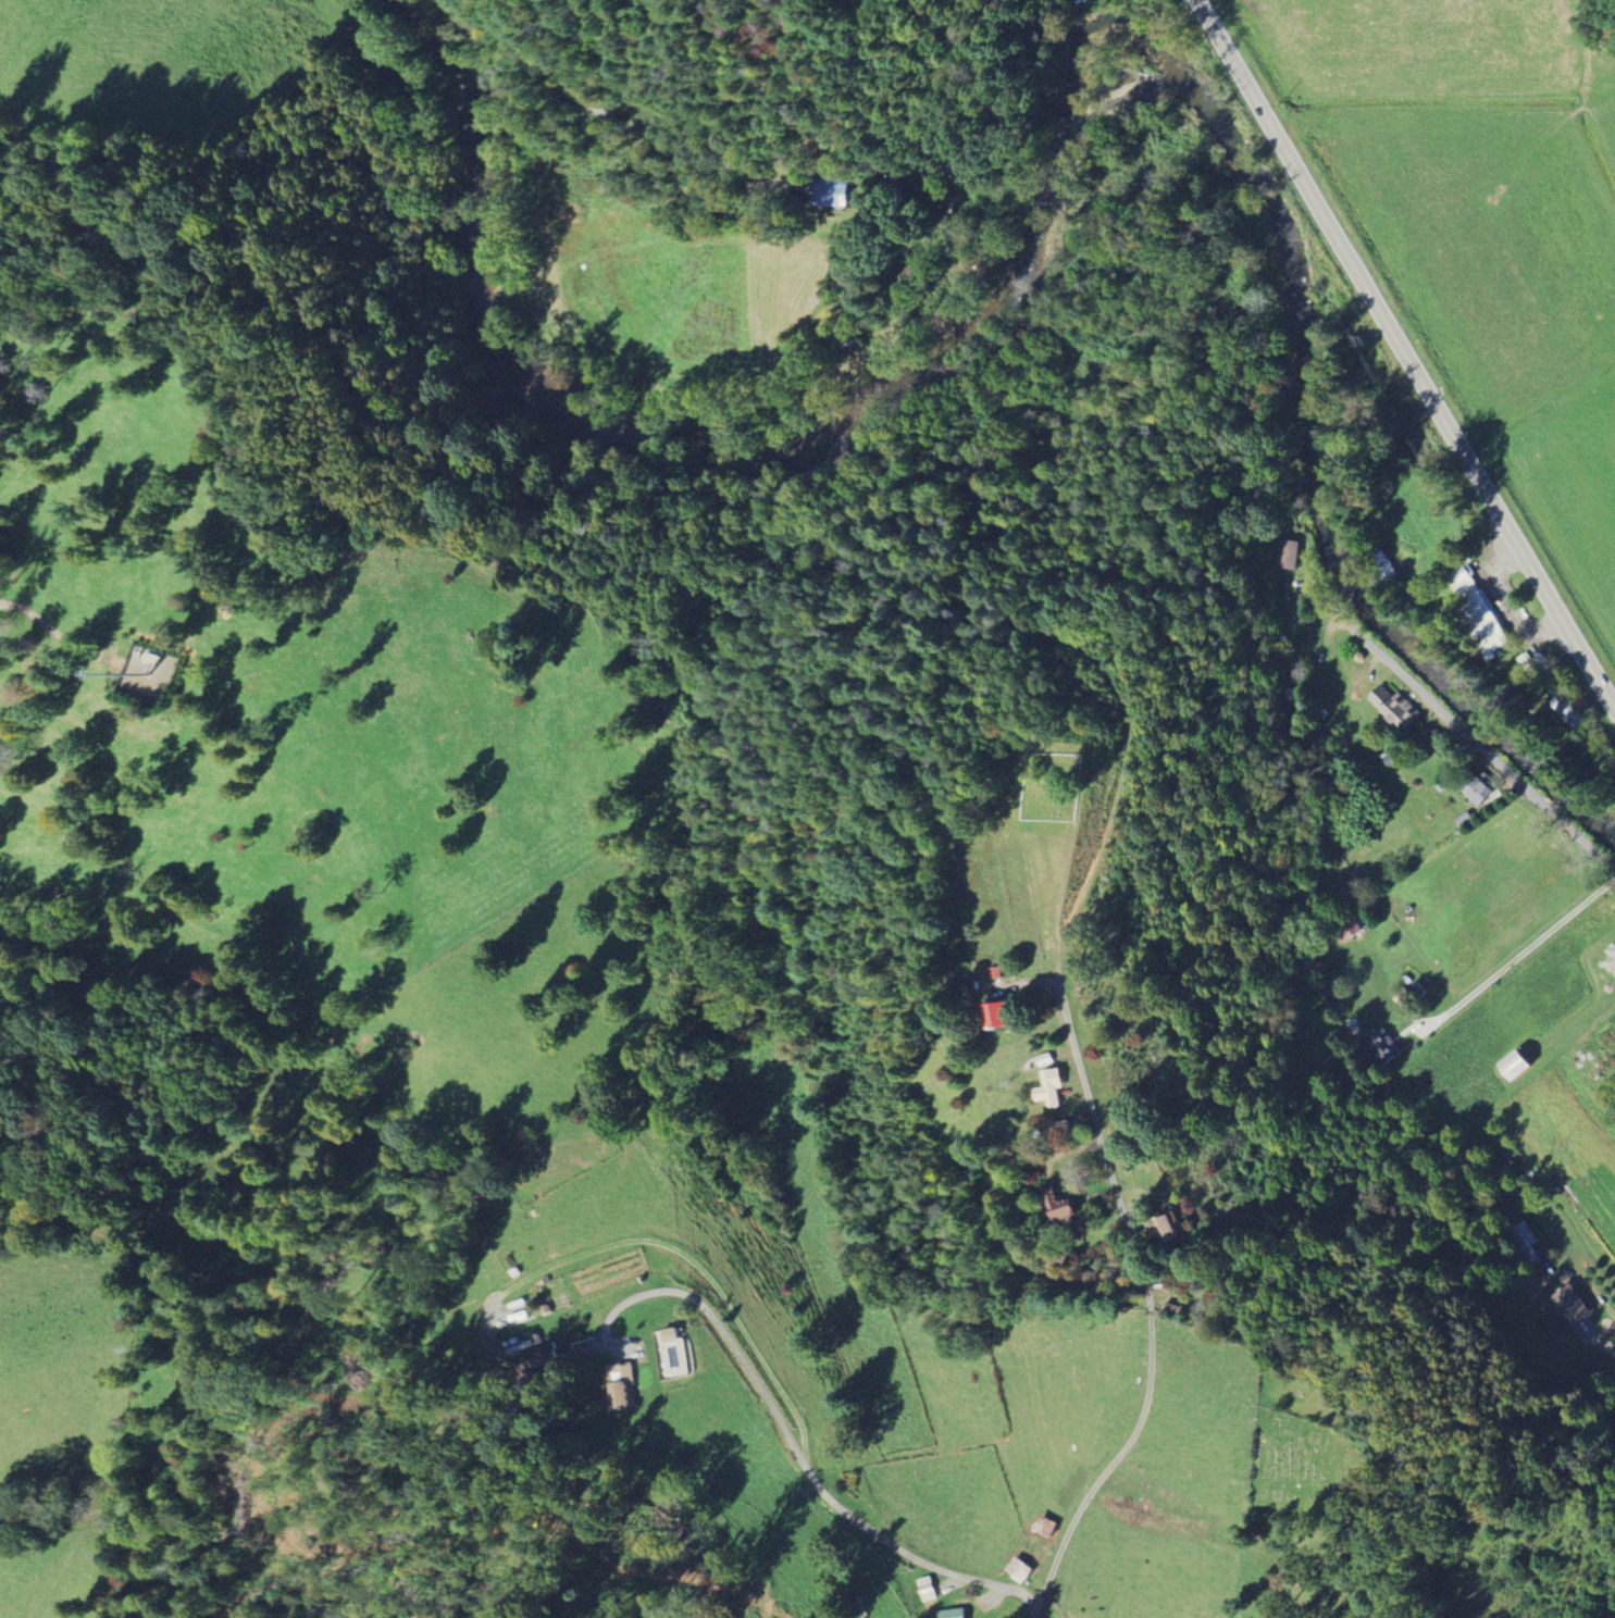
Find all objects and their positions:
road: (620, 67)
road: (543, 76)
building: (833, 192)
building: (850, 340)
road: (1406, 352)
building: (1285, 553)
building: (1386, 559)
building: (1481, 613)
building: (1399, 709)
building: (1569, 711)
road: (1476, 745)
park: (1051, 785)
building: (1489, 795)
building: (1351, 925)
building: (1613, 950)
road: (1527, 954)
building: (1613, 962)
building: (1005, 1015)
building: (1382, 1049)
building: (1523, 1065)
building: (1054, 1088)
road: (1090, 1099)
building: (1178, 1224)
building: (1526, 1244)
building: (1575, 1306)
building: (674, 1334)
building: (541, 1361)
building: (623, 1386)
park: (1305, 1467)
road: (829, 1501)
building: (1023, 1570)
building: (929, 1589)
building: (955, 1614)

